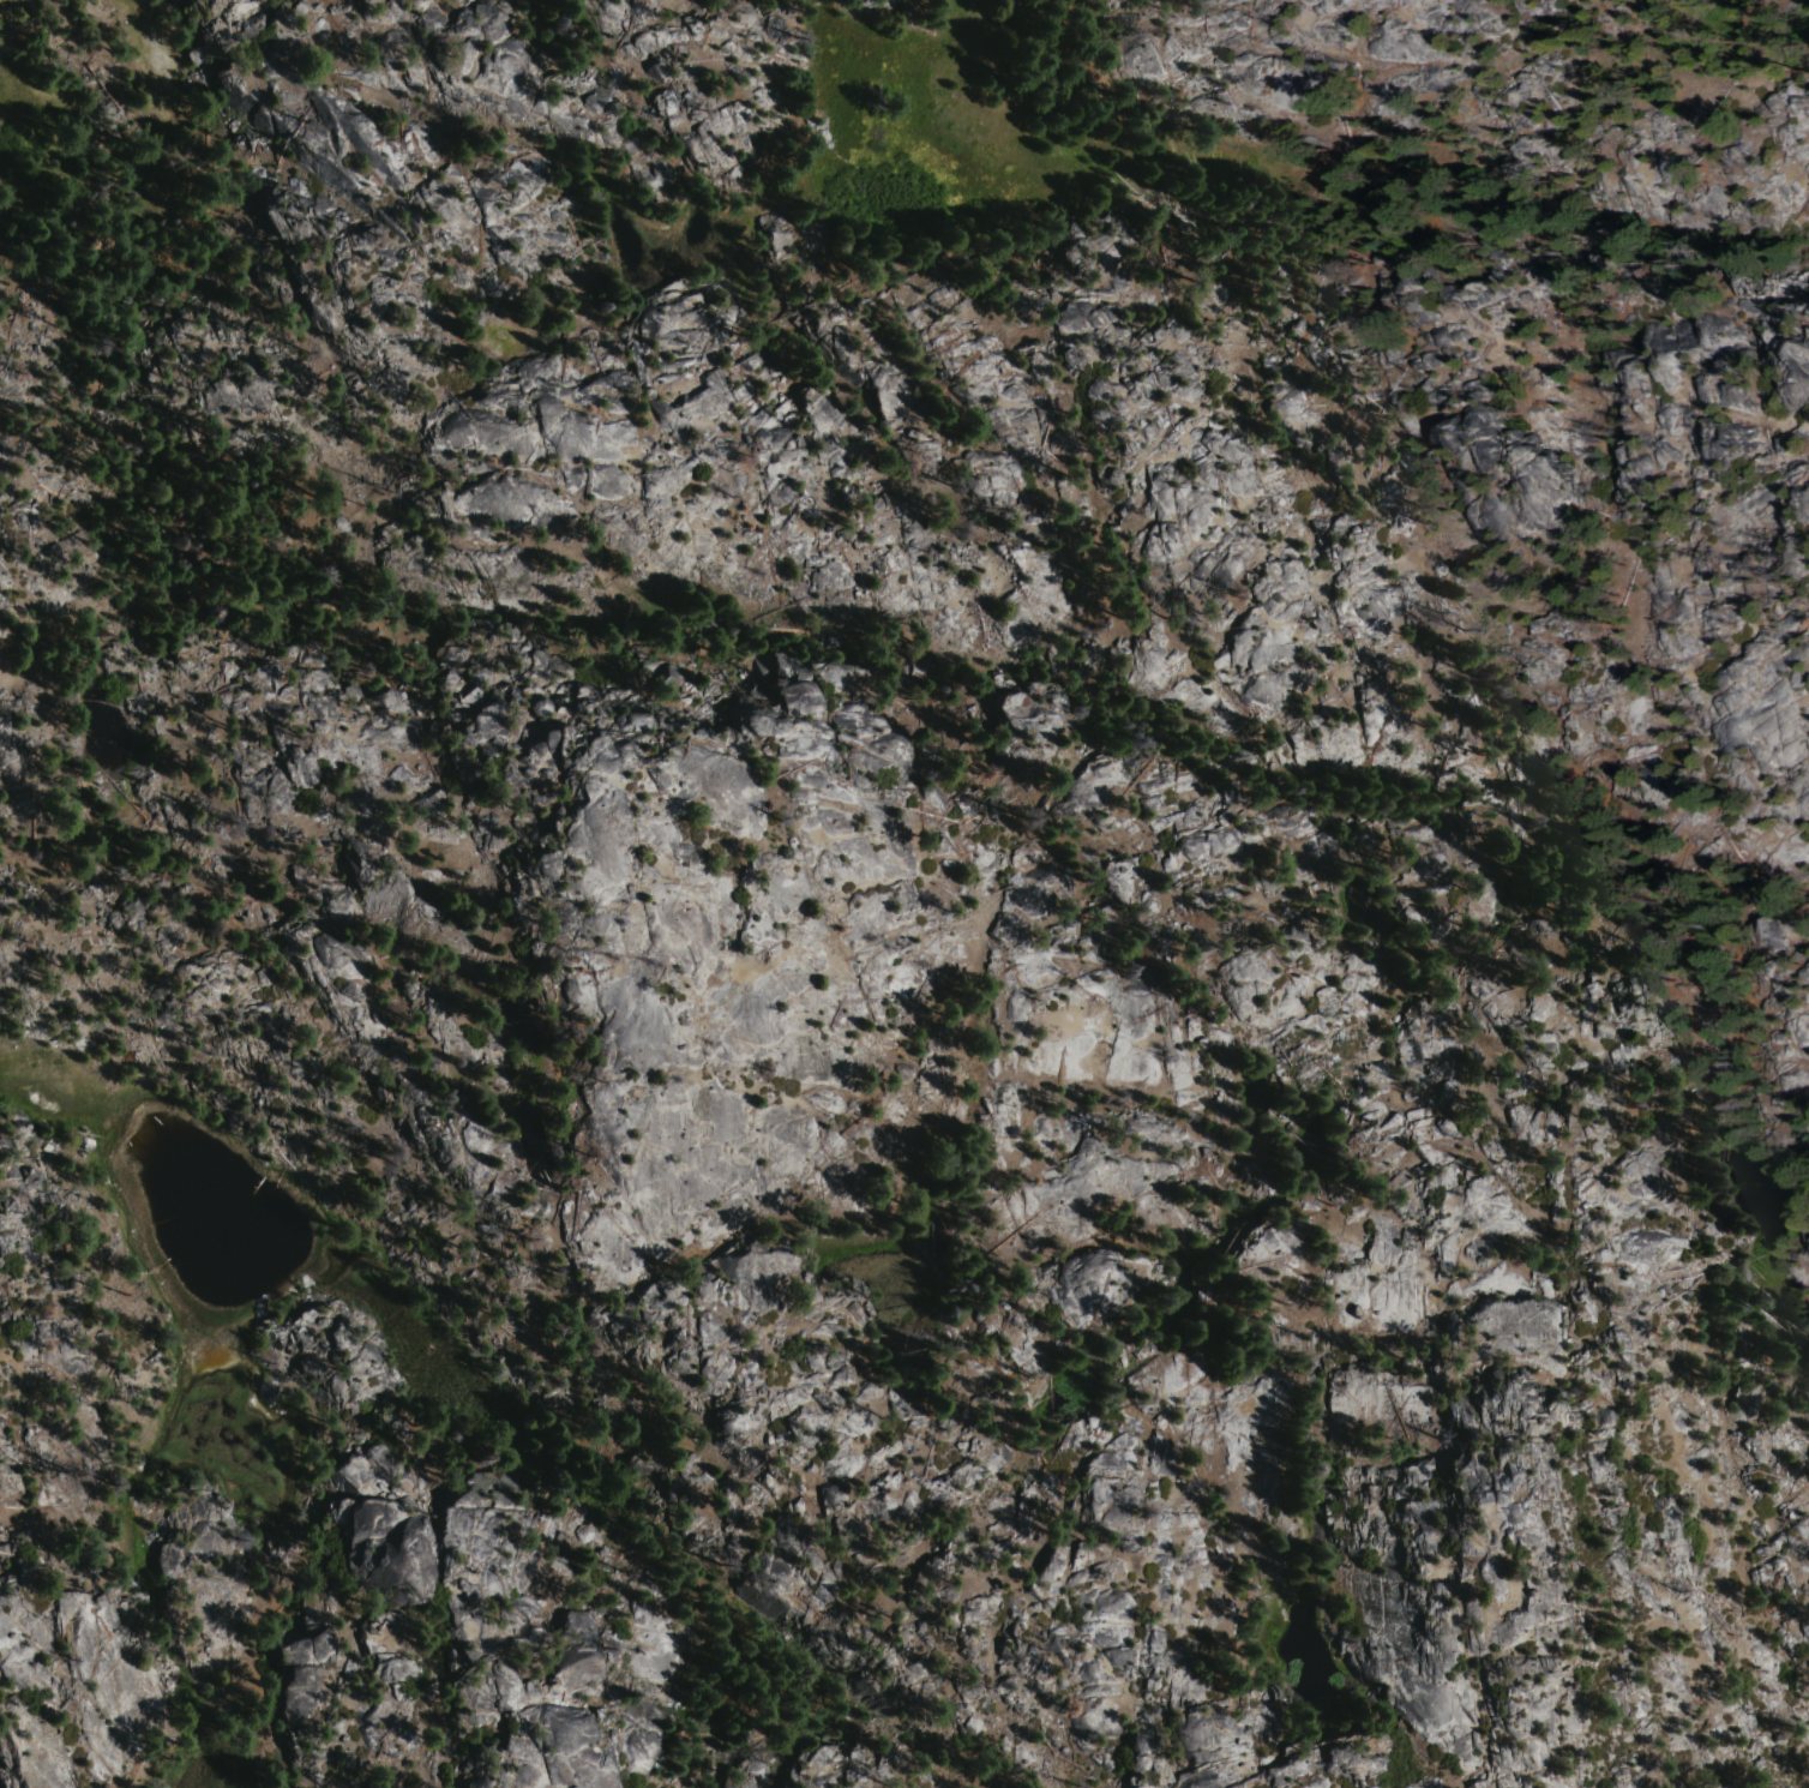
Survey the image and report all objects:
road: (60, 104)

